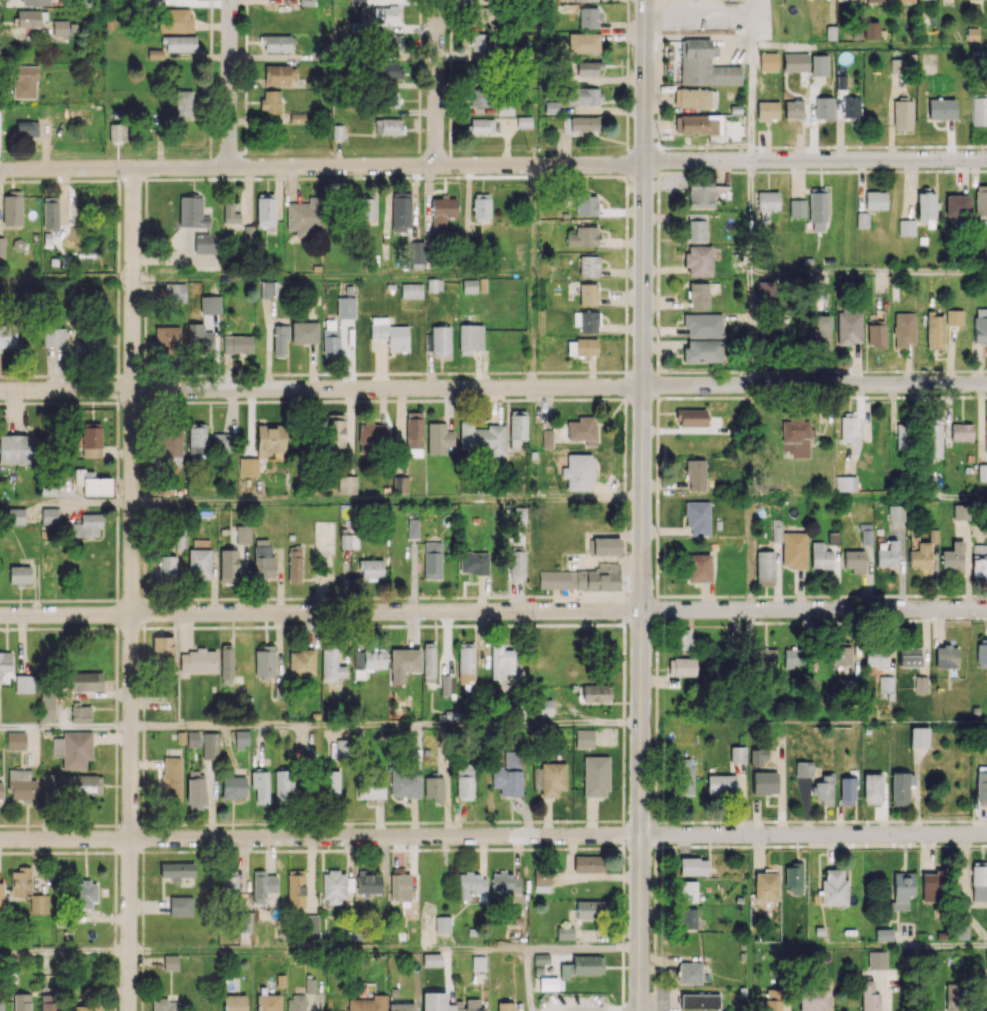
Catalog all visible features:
building: (585, 0)
building: (876, 1)
building: (903, 1)
building: (35, 2)
building: (358, 2)
road: (419, 7)
road: (697, 12)
building: (385, 16)
building: (588, 17)
building: (28, 18)
building: (175, 19)
road: (450, 21)
road: (750, 22)
road: (246, 25)
road: (419, 26)
building: (60, 27)
road: (210, 30)
building: (871, 30)
building: (276, 42)
building: (392, 42)
building: (480, 42)
building: (583, 42)
building: (179, 43)
road: (868, 46)
building: (155, 54)
road: (449, 57)
building: (768, 61)
building: (794, 62)
building: (704, 64)
building: (819, 65)
road: (419, 67)
building: (588, 68)
road: (245, 69)
building: (388, 70)
road: (627, 72)
building: (276, 75)
building: (24, 81)
road: (435, 82)
road: (229, 83)
road: (449, 95)
building: (582, 96)
building: (478, 97)
building: (691, 97)
road: (210, 98)
building: (390, 98)
building: (270, 103)
road: (750, 103)
building: (183, 104)
building: (823, 107)
building: (850, 107)
building: (941, 108)
building: (792, 109)
road: (245, 110)
building: (767, 110)
building: (979, 111)
building: (902, 115)
road: (418, 123)
building: (580, 124)
building: (480, 125)
building: (695, 125)
building: (388, 126)
building: (26, 129)
building: (117, 132)
road: (450, 135)
road: (245, 140)
road: (210, 146)
road: (245, 152)
road: (418, 153)
road: (815, 159)
road: (626, 161)
road: (321, 166)
road: (550, 175)
road: (600, 175)
road: (439, 176)
road: (486, 176)
road: (508, 176)
road: (275, 177)
road: (332, 177)
road: (357, 177)
road: (380, 177)
road: (131, 178)
road: (178, 178)
road: (224, 178)
road: (58, 179)
road: (145, 190)
building: (700, 194)
building: (875, 200)
building: (981, 200)
road: (118, 201)
building: (766, 204)
building: (585, 205)
building: (957, 205)
building: (481, 207)
building: (366, 208)
building: (797, 208)
building: (12, 210)
building: (817, 210)
building: (401, 211)
building: (442, 212)
building: (50, 213)
building: (191, 213)
building: (230, 213)
building: (265, 213)
building: (305, 215)
road: (751, 215)
building: (862, 219)
road: (533, 221)
building: (696, 227)
building: (907, 227)
road: (118, 233)
road: (145, 234)
building: (582, 237)
building: (205, 243)
building: (2, 246)
building: (417, 255)
building: (698, 260)
building: (588, 266)
road: (869, 271)
road: (625, 273)
road: (333, 279)
road: (145, 280)
road: (66, 281)
building: (469, 286)
building: (765, 288)
building: (269, 289)
building: (411, 290)
building: (175, 292)
building: (588, 294)
building: (697, 296)
road: (145, 304)
building: (210, 304)
building: (346, 307)
road: (118, 310)
building: (954, 317)
building: (585, 321)
building: (703, 325)
building: (980, 325)
building: (848, 327)
road: (752, 329)
building: (773, 329)
building: (903, 329)
building: (934, 330)
road: (144, 332)
building: (304, 332)
road: (534, 332)
building: (821, 332)
building: (389, 334)
building: (7, 335)
building: (876, 335)
building: (54, 337)
building: (470, 337)
building: (166, 339)
building: (199, 339)
building: (279, 341)
building: (440, 341)
building: (92, 342)
building: (331, 343)
building: (237, 344)
building: (582, 347)
building: (700, 350)
road: (144, 363)
road: (485, 372)
road: (336, 373)
road: (182, 374)
road: (225, 374)
road: (247, 374)
road: (278, 374)
road: (300, 374)
road: (318, 374)
road: (18, 375)
road: (47, 375)
road: (84, 375)
road: (113, 375)
road: (2, 376)
road: (627, 384)
road: (869, 386)
road: (376, 387)
road: (117, 388)
road: (554, 398)
road: (467, 399)
road: (383, 400)
road: (234, 401)
road: (302, 401)
road: (18, 402)
road: (57, 402)
road: (97, 402)
road: (163, 402)
building: (691, 417)
building: (848, 427)
building: (517, 428)
building: (335, 430)
building: (579, 430)
building: (961, 432)
building: (414, 434)
building: (372, 435)
building: (900, 435)
building: (795, 437)
building: (985, 437)
building: (439, 438)
building: (481, 438)
building: (547, 438)
building: (933, 438)
building: (91, 440)
building: (197, 441)
building: (222, 441)
building: (271, 441)
building: (170, 446)
building: (16, 449)
road: (624, 449)
building: (578, 471)
building: (982, 473)
building: (695, 474)
road: (144, 479)
building: (277, 482)
building: (92, 483)
building: (845, 483)
building: (400, 484)
building: (347, 485)
road: (948, 497)
road: (116, 499)
road: (386, 500)
road: (65, 503)
road: (642, 505)
building: (961, 511)
building: (896, 512)
road: (624, 513)
building: (15, 516)
building: (49, 516)
building: (697, 518)
building: (87, 526)
building: (412, 528)
building: (776, 530)
building: (866, 533)
building: (243, 534)
building: (349, 541)
building: (606, 546)
building: (794, 549)
building: (923, 551)
building: (887, 553)
building: (820, 556)
building: (953, 556)
building: (263, 558)
building: (432, 560)
building: (854, 560)
road: (623, 561)
building: (979, 561)
building: (472, 562)
building: (199, 563)
building: (294, 563)
building: (517, 564)
building: (228, 566)
road: (143, 567)
building: (698, 567)
building: (765, 567)
building: (167, 568)
building: (371, 569)
building: (19, 574)
building: (581, 578)
road: (143, 588)
road: (131, 589)
road: (715, 595)
road: (790, 595)
road: (817, 595)
road: (831, 595)
road: (877, 595)
road: (925, 595)
road: (952, 595)
road: (979, 595)
road: (507, 596)
road: (347, 597)
road: (370, 597)
road: (383, 597)
road: (169, 598)
road: (212, 598)
road: (248, 598)
road: (296, 598)
road: (58, 600)
road: (626, 609)
road: (814, 609)
road: (321, 612)
road: (117, 613)
road: (964, 617)
road: (921, 619)
road: (869, 620)
road: (835, 621)
road: (781, 622)
road: (820, 622)
road: (506, 624)
road: (576, 624)
road: (427, 625)
road: (213, 626)
road: (291, 626)
road: (305, 626)
road: (341, 626)
road: (101, 627)
road: (32, 628)
road: (75, 628)
road: (656, 635)
road: (143, 639)
building: (683, 639)
building: (162, 651)
building: (982, 652)
building: (841, 655)
building: (794, 656)
building: (946, 656)
building: (765, 657)
building: (876, 657)
building: (910, 657)
building: (404, 660)
building: (197, 661)
building: (367, 661)
building: (466, 661)
building: (5, 662)
building: (264, 662)
building: (301, 662)
building: (429, 662)
building: (501, 662)
building: (226, 664)
building: (331, 665)
building: (682, 666)
road: (143, 674)
building: (85, 681)
building: (24, 683)
building: (886, 684)
building: (921, 684)
building: (596, 693)
road: (656, 696)
building: (47, 707)
building: (544, 707)
road: (143, 712)
building: (80, 713)
road: (623, 721)
road: (115, 726)
road: (385, 726)
road: (64, 728)
building: (918, 737)
building: (584, 738)
building: (241, 739)
building: (15, 740)
building: (210, 745)
building: (341, 748)
building: (73, 749)
building: (738, 754)
building: (758, 757)
building: (804, 769)
road: (143, 775)
building: (509, 776)
building: (595, 776)
building: (683, 776)
building: (171, 778)
building: (553, 779)
road: (655, 780)
building: (465, 781)
building: (764, 782)
building: (331, 783)
building: (405, 783)
building: (71, 784)
building: (721, 784)
building: (981, 784)
building: (21, 785)
building: (283, 785)
building: (260, 786)
building: (233, 787)
building: (872, 787)
building: (901, 787)
building: (434, 788)
building: (0, 790)
building: (194, 790)
building: (823, 790)
building: (847, 790)
road: (559, 820)
road: (409, 821)
road: (489, 821)
road: (697, 821)
road: (727, 821)
road: (861, 821)
road: (661, 822)
road: (671, 822)
road: (160, 823)
road: (233, 823)
road: (301, 823)
road: (20, 824)
road: (64, 824)
road: (181, 824)
road: (193, 824)
road: (104, 825)
road: (624, 833)
road: (655, 833)
road: (813, 833)
road: (320, 837)
road: (115, 839)
road: (821, 845)
road: (461, 848)
road: (543, 848)
road: (586, 848)
road: (368, 849)
road: (127, 850)
road: (215, 850)
road: (247, 850)
road: (275, 850)
road: (317, 850)
road: (170, 851)
road: (57, 853)
building: (588, 863)
road: (655, 866)
building: (693, 866)
building: (178, 872)
road: (622, 878)
building: (793, 878)
building: (542, 880)
building: (979, 881)
building: (20, 882)
building: (504, 882)
building: (368, 883)
building: (399, 884)
building: (228, 885)
building: (471, 885)
building: (766, 885)
building: (932, 886)
building: (333, 887)
building: (834, 887)
building: (264, 888)
building: (296, 889)
building: (901, 889)
road: (655, 891)
building: (687, 891)
building: (1, 895)
building: (84, 895)
building: (39, 903)
road: (655, 905)
building: (180, 906)
building: (589, 910)
road: (142, 914)
building: (687, 918)
road: (114, 920)
road: (655, 922)
road: (622, 923)
building: (443, 924)
building: (310, 925)
building: (959, 930)
building: (565, 933)
building: (883, 934)
road: (836, 945)
road: (655, 947)
road: (384, 948)
road: (64, 950)
building: (541, 958)
building: (431, 959)
building: (876, 959)
building: (986, 959)
building: (170, 962)
building: (478, 963)
building: (587, 964)
building: (564, 971)
building: (689, 973)
road: (622, 974)
road: (655, 974)
road: (529, 979)
road: (142, 988)
road: (114, 994)
building: (869, 996)
building: (954, 997)
road: (655, 998)
building: (775, 1000)
building: (814, 1000)
building: (699, 1001)
building: (21, 1002)
building: (48, 1002)
building: (234, 1002)
building: (268, 1002)
building: (436, 1002)
building: (296, 1003)
building: (1, 1004)
building: (368, 1004)
road: (141, 1005)
building: (163, 1005)
building: (467, 1005)
road: (114, 1006)
building: (505, 1006)
building: (401, 1007)
building: (85, 1008)
road: (591, 1010)

